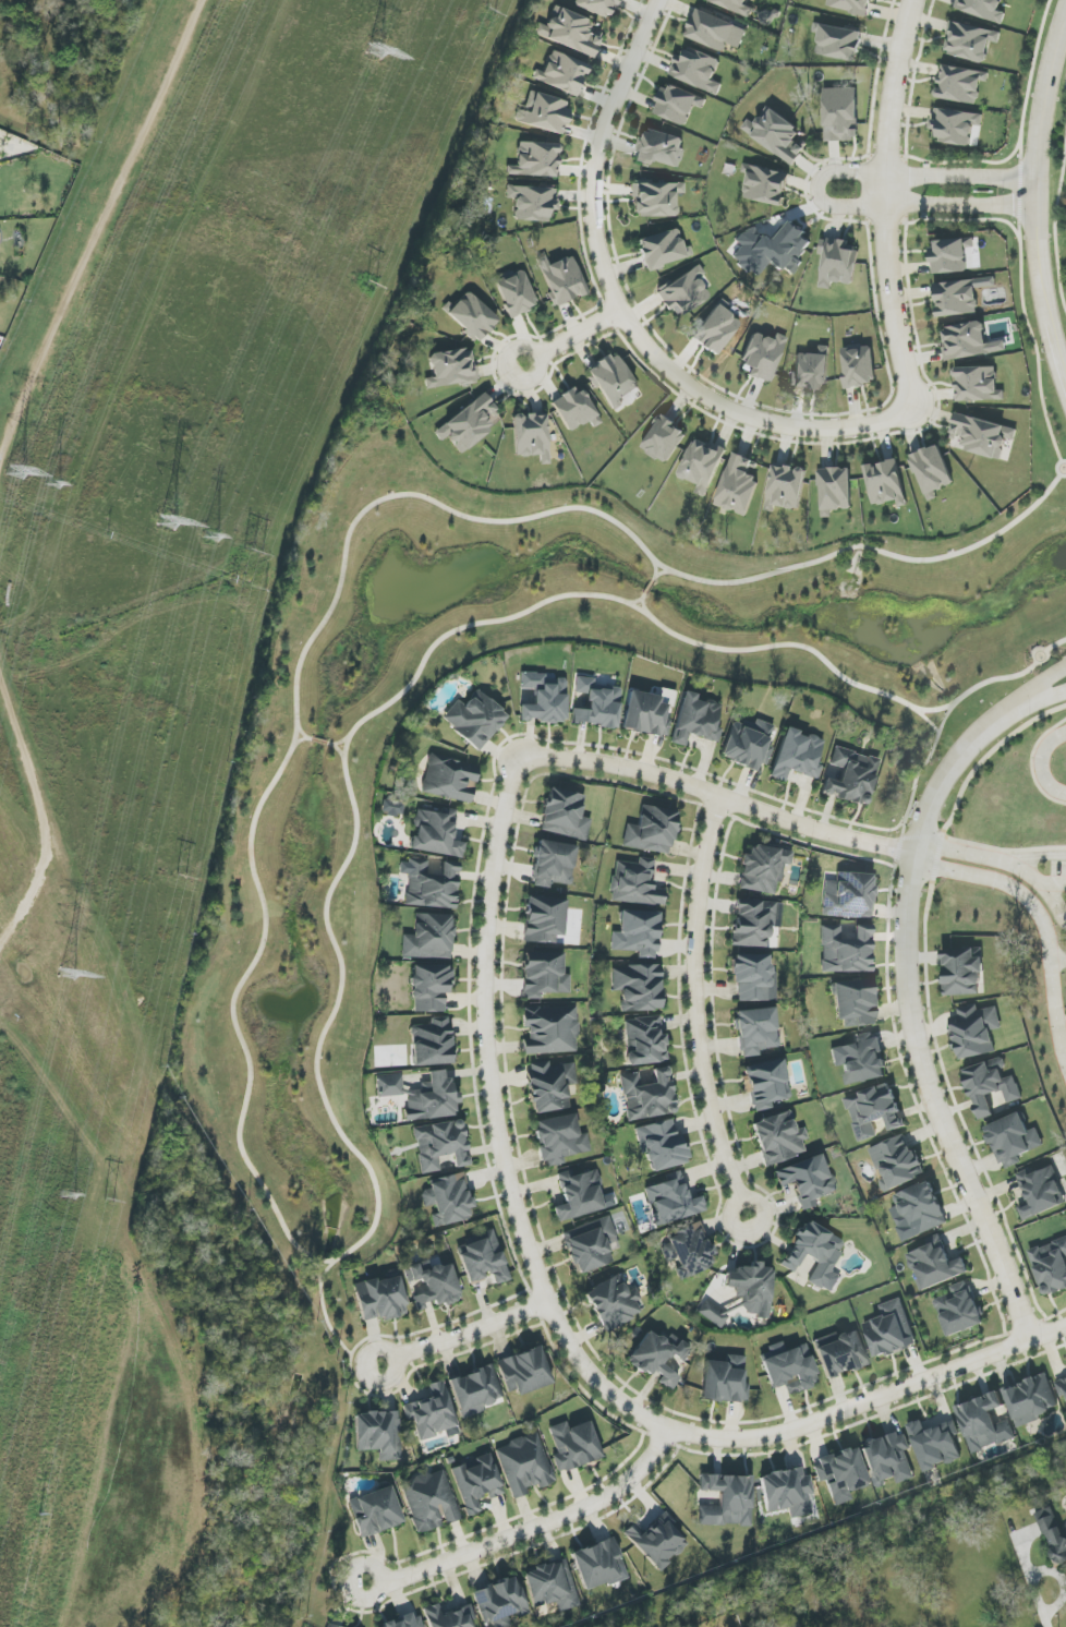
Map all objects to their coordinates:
building: (735, 5)
building: (850, 5)
road: (1065, 5)
building: (982, 9)
power tower: (489, 16)
building: (715, 31)
building: (568, 32)
building: (970, 41)
building: (838, 43)
power tower: (373, 53)
building: (696, 70)
building: (562, 73)
building: (960, 84)
road: (1023, 101)
building: (678, 104)
building: (544, 113)
building: (840, 115)
road: (1039, 120)
building: (954, 126)
building: (776, 135)
building: (661, 148)
building: (535, 160)
building: (765, 184)
road: (821, 190)
power tower: (95, 195)
road: (1057, 196)
building: (655, 198)
building: (533, 202)
road: (884, 205)
road: (96, 220)
road: (97, 231)
building: (663, 249)
building: (772, 250)
building: (949, 255)
building: (838, 262)
building: (561, 279)
power tower: (371, 287)
building: (685, 292)
building: (516, 293)
building: (957, 298)
road: (626, 310)
road: (1047, 312)
building: (472, 316)
building: (716, 329)
road: (1032, 335)
road: (572, 336)
building: (968, 341)
building: (762, 355)
building: (859, 365)
building: (451, 369)
building: (811, 370)
building: (613, 381)
building: (978, 384)
building: (574, 409)
road: (58, 422)
building: (470, 423)
building: (982, 435)
building: (531, 436)
building: (664, 439)
building: (702, 465)
road: (1057, 468)
building: (932, 471)
power tower: (14, 473)
building: (885, 483)
building: (738, 485)
power tower: (47, 487)
building: (786, 487)
building: (835, 491)
power tower: (166, 527)
power tower: (210, 532)
power tower: (253, 554)
road: (658, 575)
road: (656, 578)
road: (651, 587)
road: (646, 596)
road: (645, 599)
road: (1055, 644)
road: (1049, 659)
road: (1043, 685)
road: (1043, 697)
building: (544, 699)
building: (597, 704)
building: (474, 719)
building: (696, 720)
road: (931, 720)
road: (941, 732)
road: (307, 737)
road: (311, 738)
road: (322, 742)
road: (331, 744)
building: (748, 744)
road: (334, 745)
building: (797, 756)
road: (988, 758)
road: (1032, 762)
road: (1041, 763)
building: (851, 778)
building: (450, 779)
road: (720, 798)
road: (693, 803)
building: (392, 808)
road: (41, 815)
building: (565, 815)
road: (29, 820)
building: (652, 831)
building: (436, 833)
road: (941, 836)
building: (553, 864)
building: (763, 869)
road: (1032, 873)
road: (978, 876)
power tower: (181, 878)
building: (635, 883)
building: (429, 884)
road: (1056, 884)
building: (850, 896)
road: (1056, 900)
street lamp: (907, 907)
building: (544, 919)
building: (753, 923)
building: (638, 933)
building: (429, 938)
building: (846, 950)
road: (1059, 963)
power tower: (66, 973)
building: (962, 973)
building: (544, 975)
building: (753, 977)
building: (638, 987)
building: (431, 988)
building: (855, 1003)
road: (695, 1011)
road: (911, 1014)
road: (1062, 1025)
building: (550, 1029)
building: (755, 1031)
building: (974, 1031)
building: (644, 1040)
building: (433, 1043)
building: (861, 1060)
building: (766, 1084)
building: (389, 1085)
building: (549, 1085)
building: (990, 1086)
building: (647, 1095)
building: (432, 1098)
building: (873, 1111)
road: (242, 1135)
building: (779, 1138)
building: (559, 1140)
building: (1013, 1140)
building: (440, 1145)
building: (661, 1145)
building: (896, 1162)
building: (807, 1180)
building: (1040, 1192)
power tower: (66, 1193)
building: (579, 1194)
building: (448, 1200)
building: (673, 1201)
street lamp: (980, 1203)
power tower: (110, 1204)
building: (919, 1209)
building: (590, 1244)
building: (689, 1250)
building: (815, 1254)
building: (482, 1258)
building: (935, 1264)
building: (1052, 1267)
road: (320, 1281)
building: (434, 1285)
building: (752, 1289)
building: (380, 1299)
building: (614, 1302)
street lamp: (1019, 1303)
building: (959, 1310)
building: (713, 1313)
road: (558, 1319)
building: (889, 1330)
road: (465, 1331)
road: (336, 1334)
building: (841, 1352)
building: (658, 1358)
building: (789, 1367)
building: (524, 1371)
building: (725, 1381)
building: (1062, 1389)
building: (476, 1390)
building: (1031, 1400)
building: (432, 1412)
building: (983, 1423)
building: (379, 1434)
building: (935, 1444)
building: (573, 1445)
building: (888, 1459)
building: (524, 1465)
building: (841, 1474)
building: (476, 1482)
building: (787, 1492)
building: (727, 1501)
building: (431, 1502)
building: (375, 1511)
power tower: (39, 1518)
road: (532, 1527)
building: (1053, 1534)
building: (657, 1541)
building: (598, 1565)
road: (1031, 1582)
building: (552, 1586)
building: (500, 1602)
building: (449, 1616)
building: (405, 1622)
building: (329, 1625)

